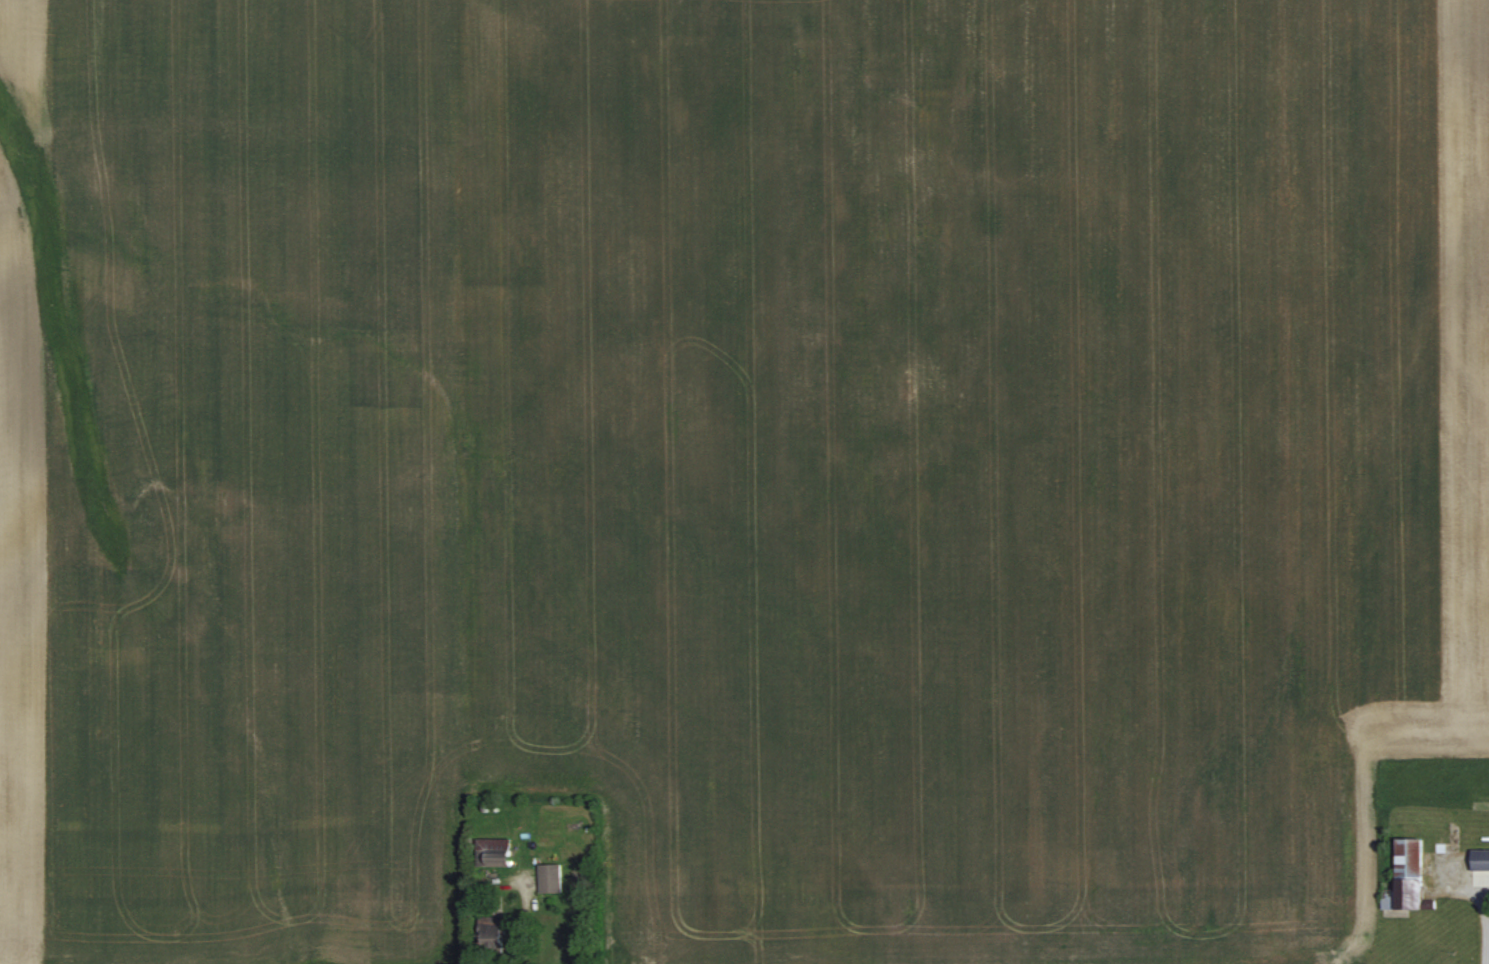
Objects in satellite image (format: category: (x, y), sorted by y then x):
building: (494, 852)
building: (1480, 860)
building: (1406, 877)
building: (551, 878)
road: (1488, 921)
building: (492, 935)

